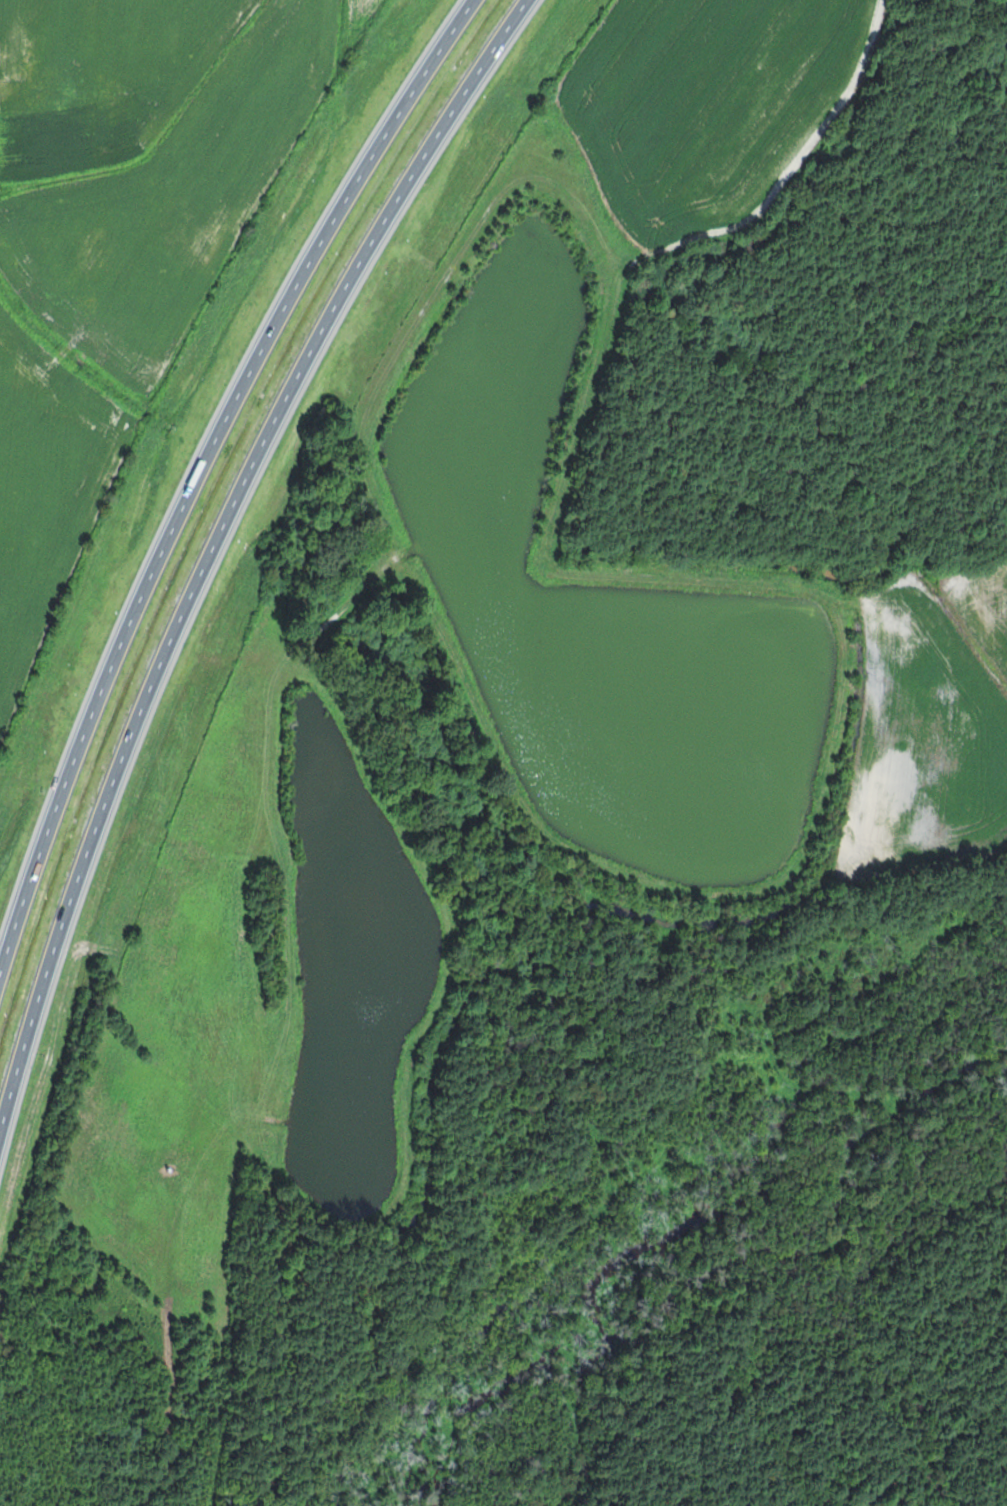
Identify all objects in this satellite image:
road: (201, 482)
road: (213, 563)

